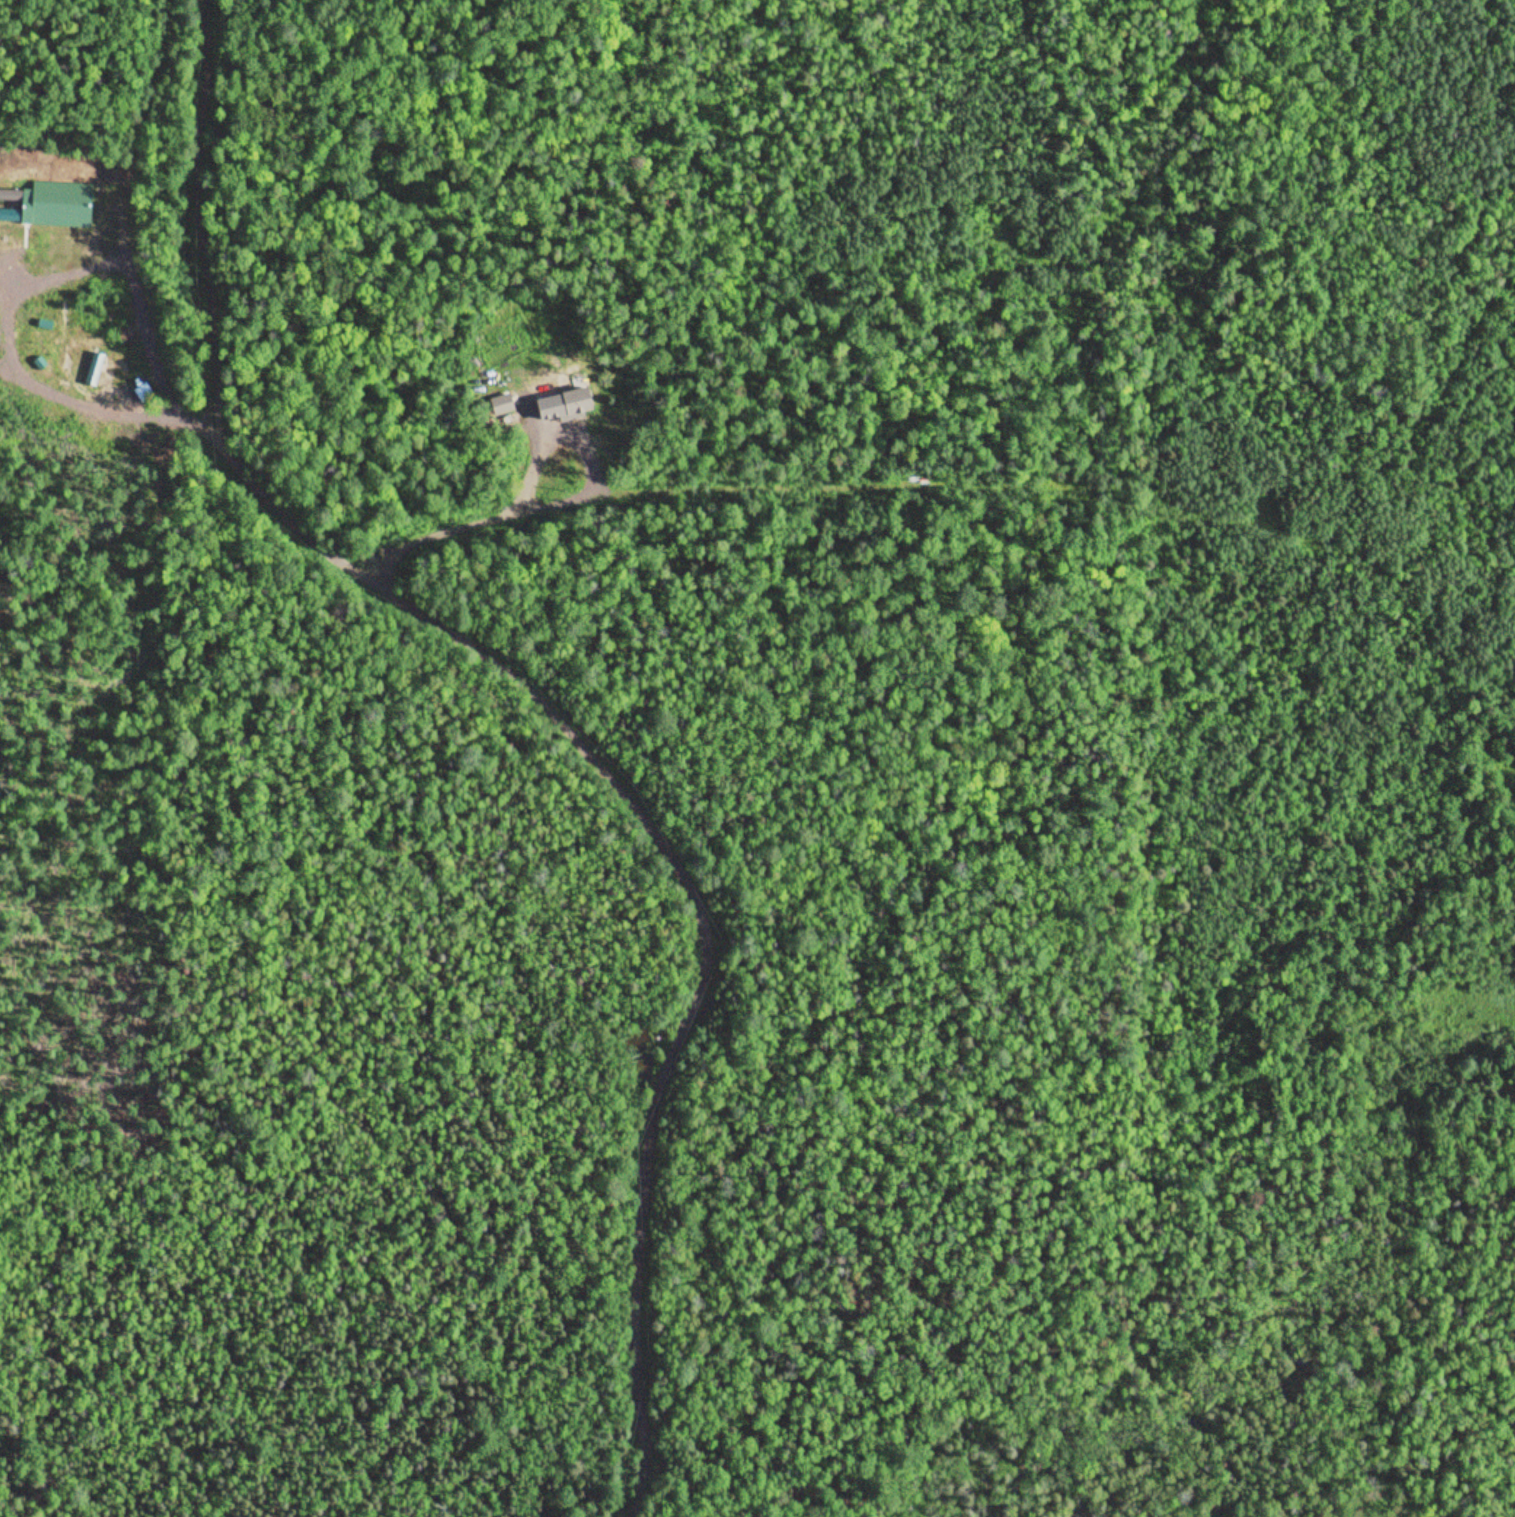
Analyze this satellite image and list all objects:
road: (390, 586)
road: (616, 1309)

